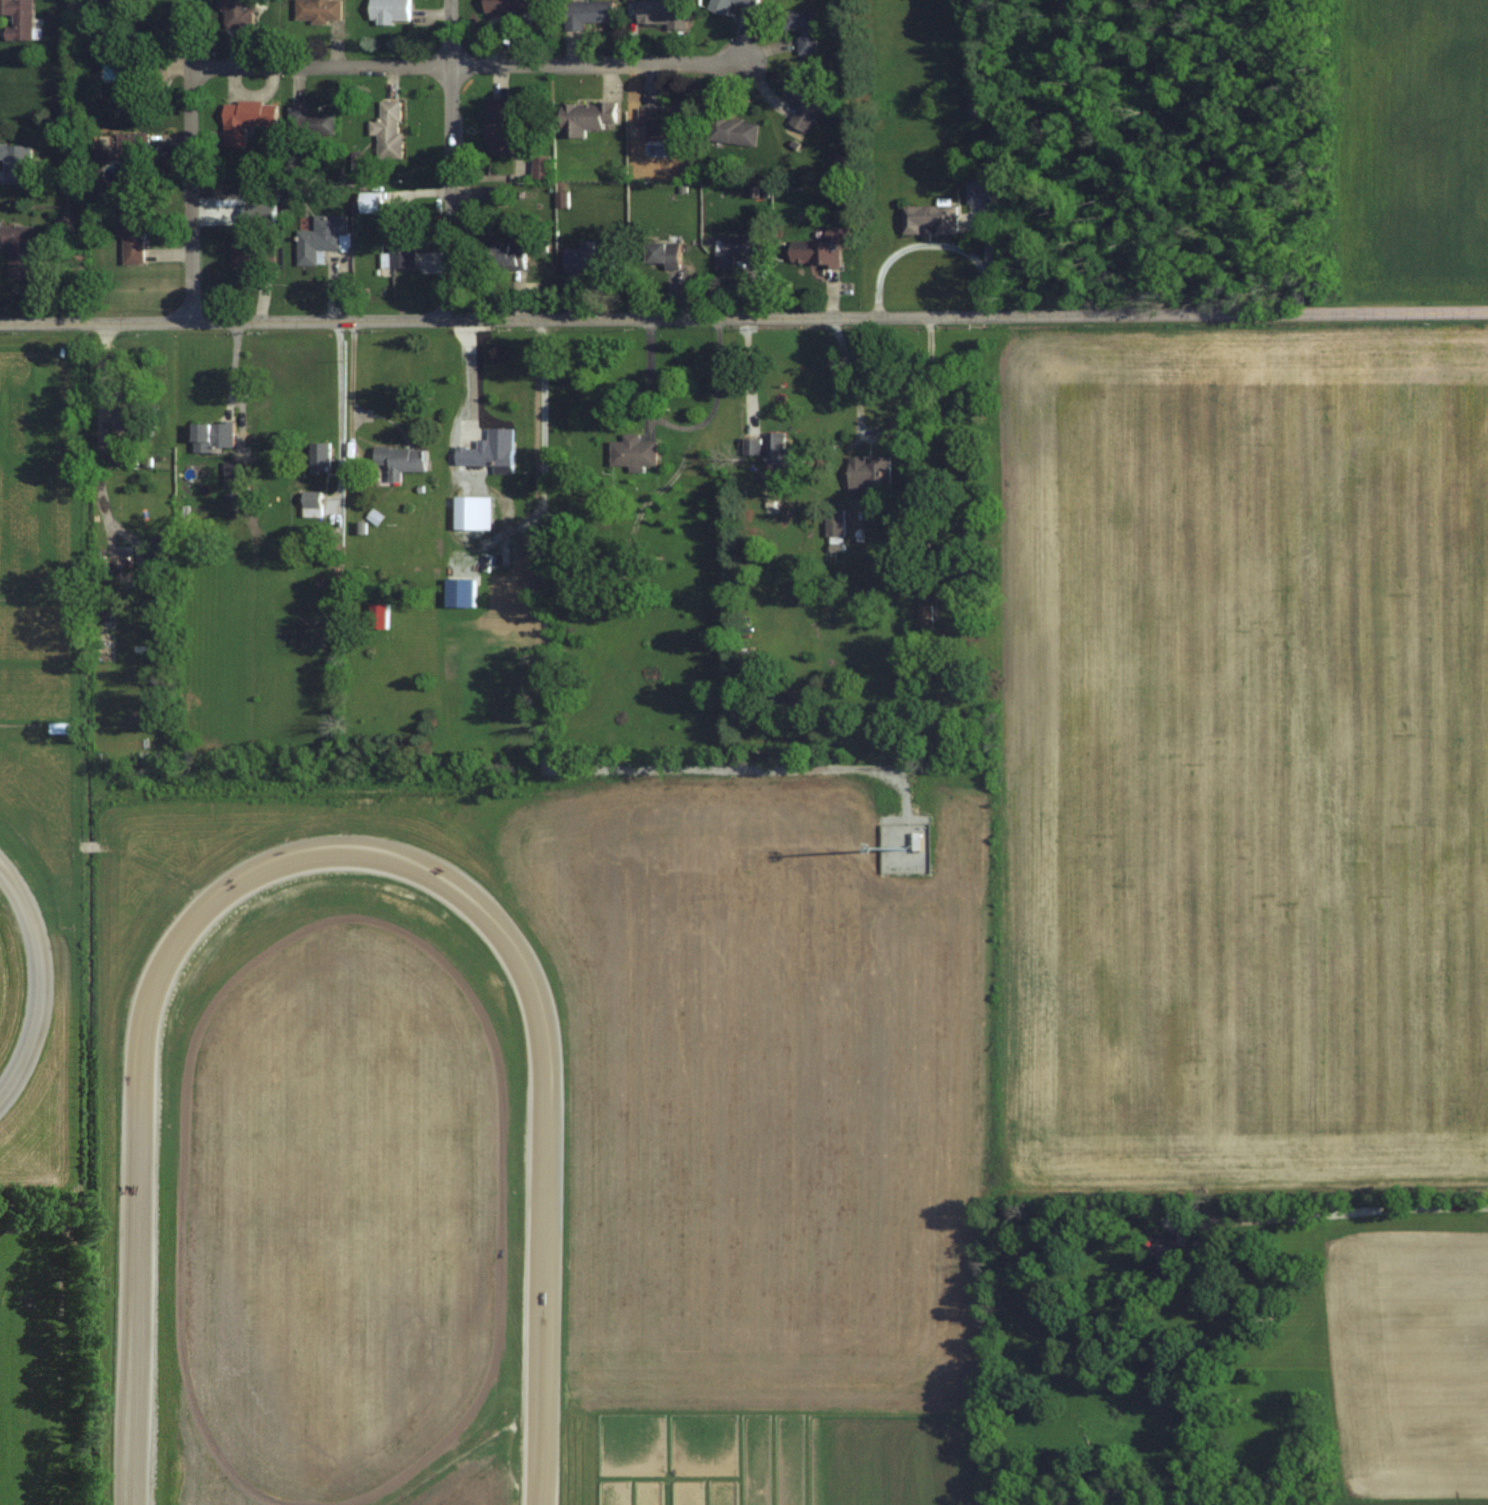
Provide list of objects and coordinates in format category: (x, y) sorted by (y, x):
building: (505, 5)
building: (718, 5)
building: (317, 11)
building: (388, 11)
building: (586, 12)
building: (237, 13)
building: (661, 13)
building: (18, 19)
building: (801, 28)
road: (465, 64)
building: (135, 79)
building: (802, 101)
building: (584, 117)
building: (244, 119)
building: (311, 119)
building: (499, 125)
building: (662, 125)
building: (388, 128)
building: (730, 130)
building: (134, 144)
crop: (1414, 149)
road: (452, 159)
road: (192, 160)
building: (17, 163)
building: (540, 166)
building: (977, 192)
building: (369, 202)
building: (256, 215)
building: (928, 219)
building: (131, 237)
building: (321, 239)
building: (400, 246)
building: (17, 249)
building: (732, 249)
building: (823, 250)
building: (662, 254)
building: (507, 255)
building: (252, 256)
building: (587, 257)
road: (743, 317)
road: (748, 370)
road: (469, 371)
road: (103, 376)
road: (340, 413)
building: (130, 420)
road: (543, 429)
building: (211, 436)
road: (926, 447)
building: (768, 448)
building: (632, 451)
building: (124, 456)
building: (318, 457)
building: (488, 457)
building: (401, 461)
building: (868, 473)
building: (235, 475)
building: (311, 504)
building: (472, 513)
building: (834, 525)
building: (950, 562)
building: (377, 615)
building: (64, 728)
crop: (1242, 759)
road: (1328, 1213)
building: (1169, 1261)

